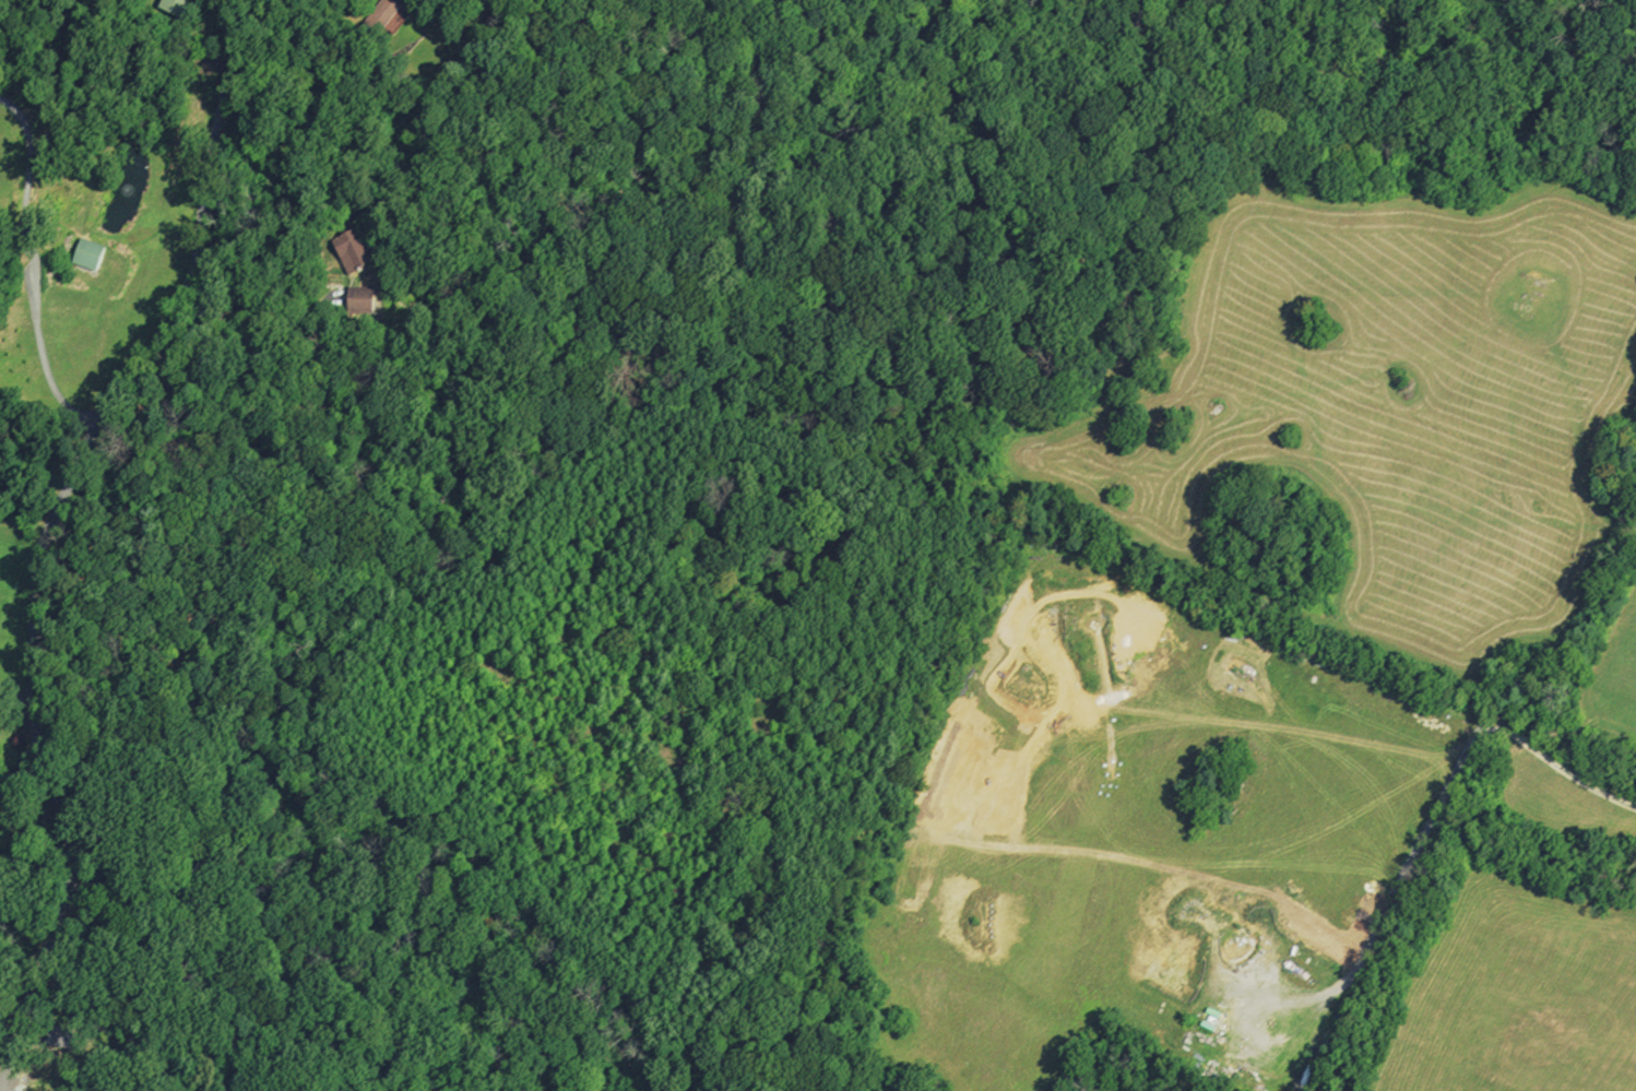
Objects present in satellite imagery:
building: (180, 10)
building: (386, 17)
building: (354, 256)
building: (91, 257)
road: (35, 268)
building: (364, 305)
road: (249, 344)
crop: (1385, 401)
road: (46, 531)
road: (17, 705)
road: (24, 773)
road: (1431, 813)
building: (62, 1040)

